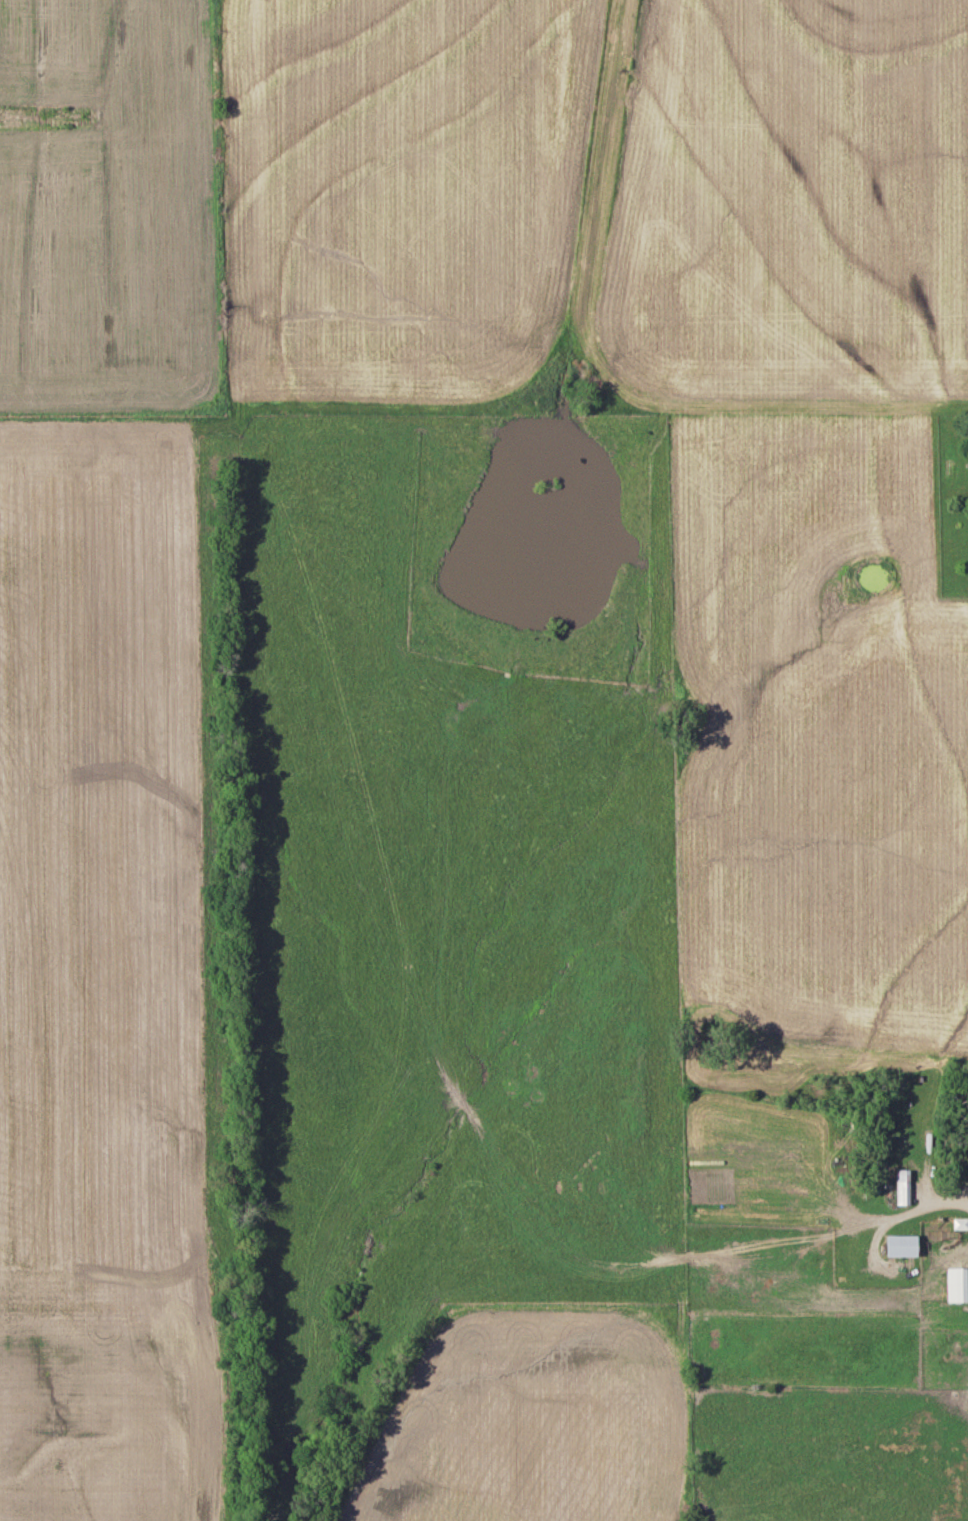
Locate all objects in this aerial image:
building: (956, 1286)

